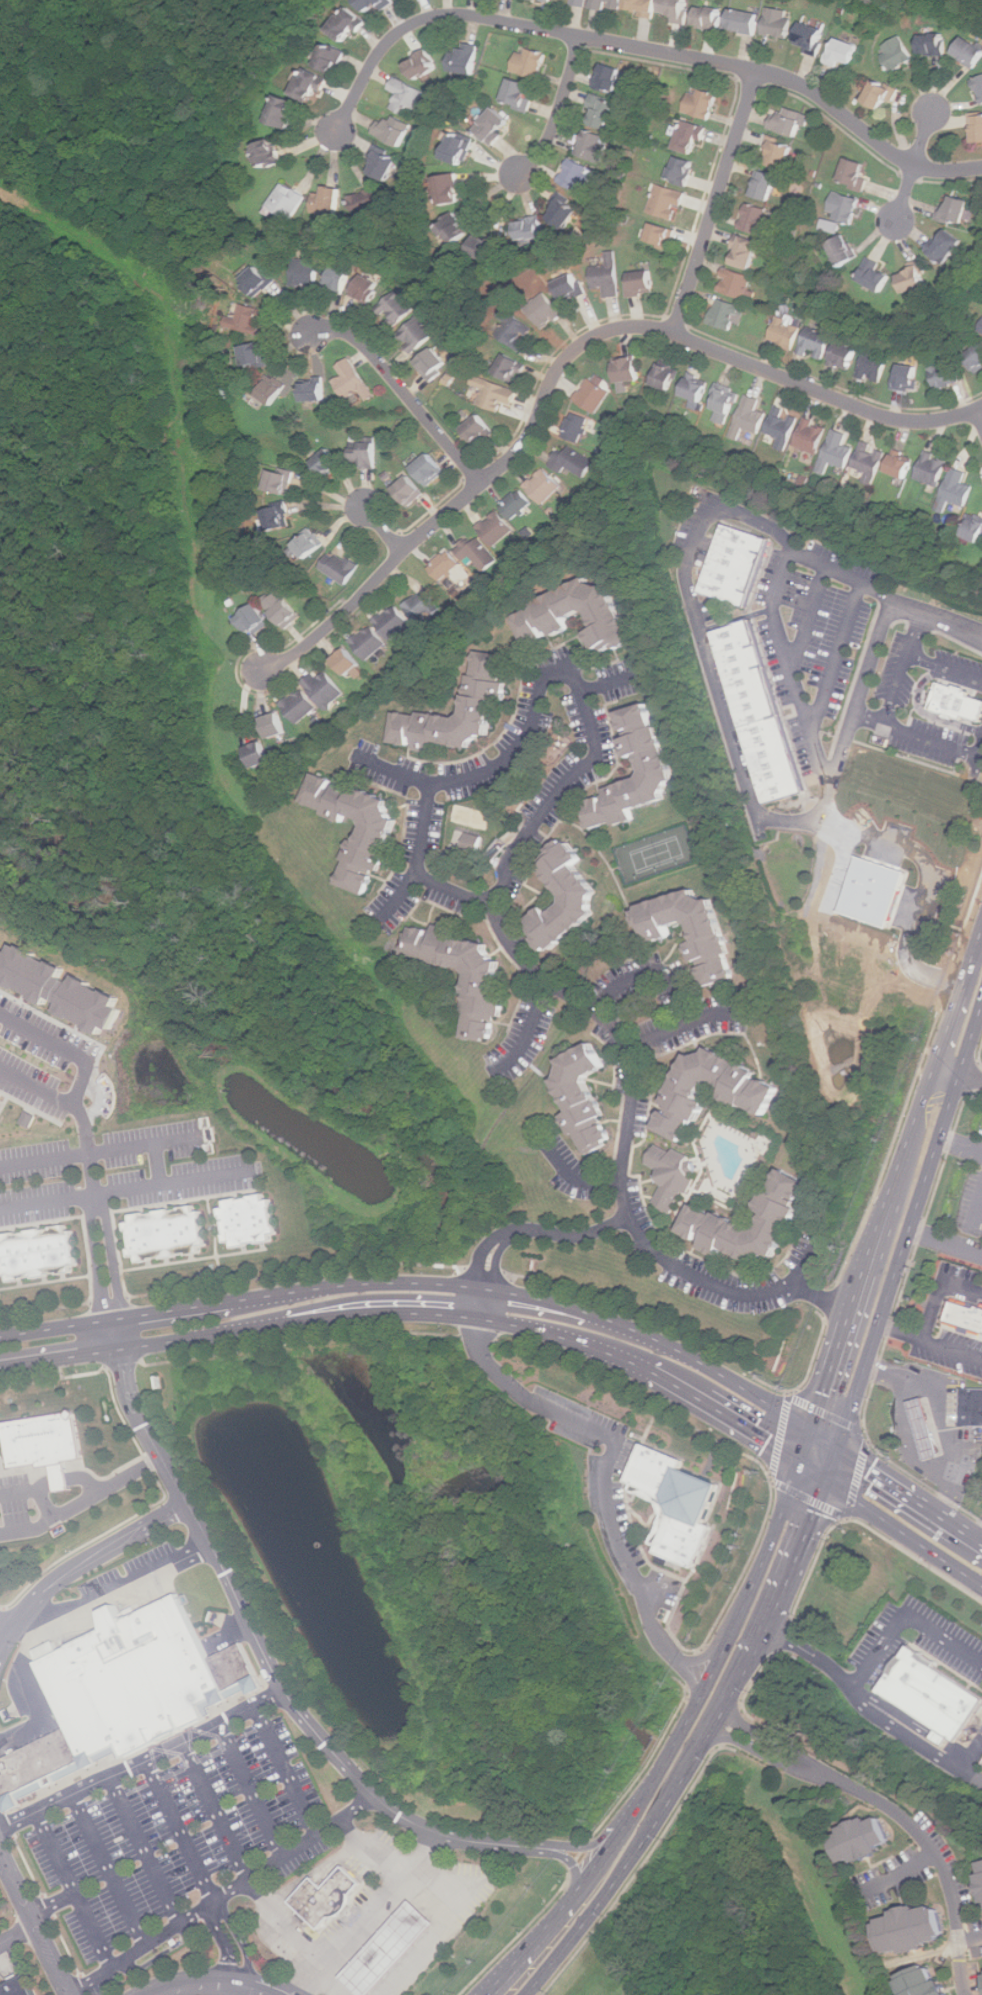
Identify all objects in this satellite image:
building: (549, 0)
building: (581, 2)
building: (376, 4)
building: (609, 4)
building: (644, 5)
building: (679, 10)
building: (710, 16)
building: (746, 20)
building: (779, 22)
building: (348, 24)
building: (813, 37)
building: (935, 44)
road: (643, 48)
building: (970, 50)
building: (844, 51)
building: (898, 52)
building: (466, 57)
building: (333, 58)
building: (531, 62)
building: (424, 65)
building: (610, 78)
building: (979, 84)
building: (311, 85)
building: (520, 93)
building: (883, 93)
building: (406, 96)
building: (702, 103)
road: (558, 109)
building: (284, 110)
building: (599, 111)
building: (790, 121)
building: (495, 124)
building: (394, 128)
building: (978, 128)
building: (692, 137)
building: (593, 145)
building: (461, 147)
building: (271, 153)
building: (783, 154)
building: (384, 165)
road: (914, 166)
building: (684, 170)
building: (857, 173)
building: (577, 176)
building: (768, 185)
building: (451, 189)
building: (288, 201)
building: (329, 201)
building: (669, 202)
road: (715, 203)
building: (368, 204)
building: (844, 207)
building: (957, 211)
building: (566, 213)
building: (758, 220)
building: (830, 226)
building: (455, 229)
building: (531, 229)
building: (663, 235)
building: (947, 245)
building: (487, 248)
building: (845, 250)
building: (748, 251)
building: (306, 273)
building: (875, 275)
building: (608, 276)
building: (339, 278)
building: (914, 279)
building: (259, 280)
building: (643, 283)
building: (737, 284)
building: (571, 287)
building: (367, 290)
building: (399, 305)
building: (545, 310)
building: (727, 314)
building: (249, 320)
building: (514, 329)
building: (981, 331)
building: (787, 333)
building: (417, 334)
building: (818, 342)
building: (255, 355)
building: (845, 356)
road: (567, 357)
building: (976, 357)
building: (434, 364)
building: (874, 365)
building: (511, 367)
building: (629, 370)
building: (946, 375)
building: (668, 377)
building: (908, 377)
building: (353, 381)
building: (697, 389)
building: (315, 391)
building: (272, 392)
road: (403, 392)
building: (496, 393)
building: (594, 395)
building: (726, 405)
building: (750, 417)
road: (978, 419)
building: (576, 427)
building: (784, 427)
building: (480, 430)
building: (812, 436)
building: (837, 452)
building: (365, 456)
building: (573, 461)
building: (870, 462)
building: (330, 463)
building: (902, 466)
building: (431, 469)
building: (933, 469)
building: (281, 481)
building: (544, 486)
building: (956, 490)
building: (410, 491)
building: (517, 505)
building: (278, 519)
road: (382, 528)
building: (497, 529)
building: (974, 529)
building: (308, 546)
building: (478, 552)
building: (742, 558)
building: (446, 565)
building: (340, 567)
building: (278, 606)
building: (422, 606)
building: (549, 614)
road: (814, 616)
road: (938, 617)
building: (256, 619)
building: (394, 622)
road: (913, 631)
building: (370, 642)
road: (709, 655)
road: (842, 656)
building: (348, 661)
road: (944, 664)
building: (757, 666)
road: (896, 686)
road: (607, 687)
building: (325, 688)
building: (959, 696)
building: (482, 700)
road: (809, 704)
building: (300, 705)
road: (536, 708)
road: (871, 717)
building: (277, 725)
road: (919, 732)
road: (970, 748)
building: (261, 753)
building: (783, 753)
building: (658, 769)
road: (394, 781)
building: (379, 829)
building: (474, 843)
park: (658, 853)
road: (934, 871)
building: (871, 892)
building: (582, 898)
building: (712, 940)
building: (486, 983)
road: (674, 986)
building: (62, 989)
road: (958, 999)
road: (711, 1014)
road: (525, 1027)
road: (972, 1034)
road: (65, 1048)
road: (979, 1055)
road: (949, 1068)
road: (971, 1076)
road: (974, 1079)
building: (755, 1094)
road: (926, 1094)
building: (1, 1096)
road: (100, 1099)
building: (586, 1099)
road: (75, 1109)
building: (28, 1119)
road: (628, 1126)
road: (961, 1142)
road: (96, 1152)
road: (945, 1157)
road: (159, 1162)
road: (903, 1162)
building: (673, 1177)
road: (122, 1187)
road: (981, 1218)
building: (249, 1220)
building: (713, 1223)
road: (522, 1230)
road: (879, 1230)
building: (167, 1232)
road: (945, 1242)
building: (39, 1252)
road: (102, 1256)
road: (900, 1257)
road: (807, 1264)
road: (421, 1282)
road: (860, 1285)
road: (940, 1290)
road: (823, 1299)
building: (965, 1315)
road: (383, 1316)
road: (112, 1336)
road: (561, 1337)
road: (201, 1339)
road: (930, 1339)
road: (57, 1361)
road: (123, 1364)
road: (831, 1369)
road: (54, 1378)
road: (671, 1384)
building: (972, 1405)
road: (941, 1416)
road: (697, 1427)
building: (925, 1428)
traffic signals: (815, 1430)
road: (753, 1432)
road: (828, 1437)
building: (47, 1440)
road: (912, 1440)
traffic signals: (842, 1444)
road: (838, 1462)
traffic signals: (804, 1463)
road: (819, 1472)
road: (606, 1475)
road: (64, 1478)
traffic signals: (835, 1481)
road: (87, 1482)
road: (46, 1484)
road: (18, 1491)
road: (912, 1491)
building: (683, 1499)
road: (45, 1503)
road: (82, 1503)
road: (142, 1511)
road: (908, 1531)
road: (807, 1545)
road: (84, 1566)
road: (112, 1591)
road: (1, 1610)
road: (5, 1628)
road: (765, 1632)
road: (878, 1654)
road: (269, 1661)
building: (237, 1668)
building: (134, 1681)
building: (936, 1694)
road: (681, 1731)
road: (712, 1731)
building: (941, 1737)
road: (916, 1740)
road: (143, 1763)
building: (39, 1764)
road: (287, 1772)
road: (975, 1780)
road: (253, 1792)
road: (898, 1812)
road: (218, 1813)
road: (181, 1834)
building: (865, 1839)
road: (589, 1847)
parking lot: (179, 1850)
road: (146, 1852)
road: (368, 1855)
road: (3, 1856)
road: (567, 1861)
building: (981, 1863)
road: (111, 1871)
road: (900, 1871)
building: (980, 1883)
road: (74, 1891)
road: (226, 1898)
building: (328, 1898)
road: (597, 1903)
parking lot: (2, 1904)
road: (55, 1905)
road: (371, 1915)
road: (36, 1918)
road: (286, 1926)
building: (914, 1929)
road: (440, 1933)
road: (20, 1937)
road: (239, 1947)
building: (391, 1950)
parking lot: (1, 1951)
building: (925, 1981)
road: (332, 1983)
road: (196, 1984)
building: (20, 1987)
road: (259, 1989)
road: (240, 1991)

